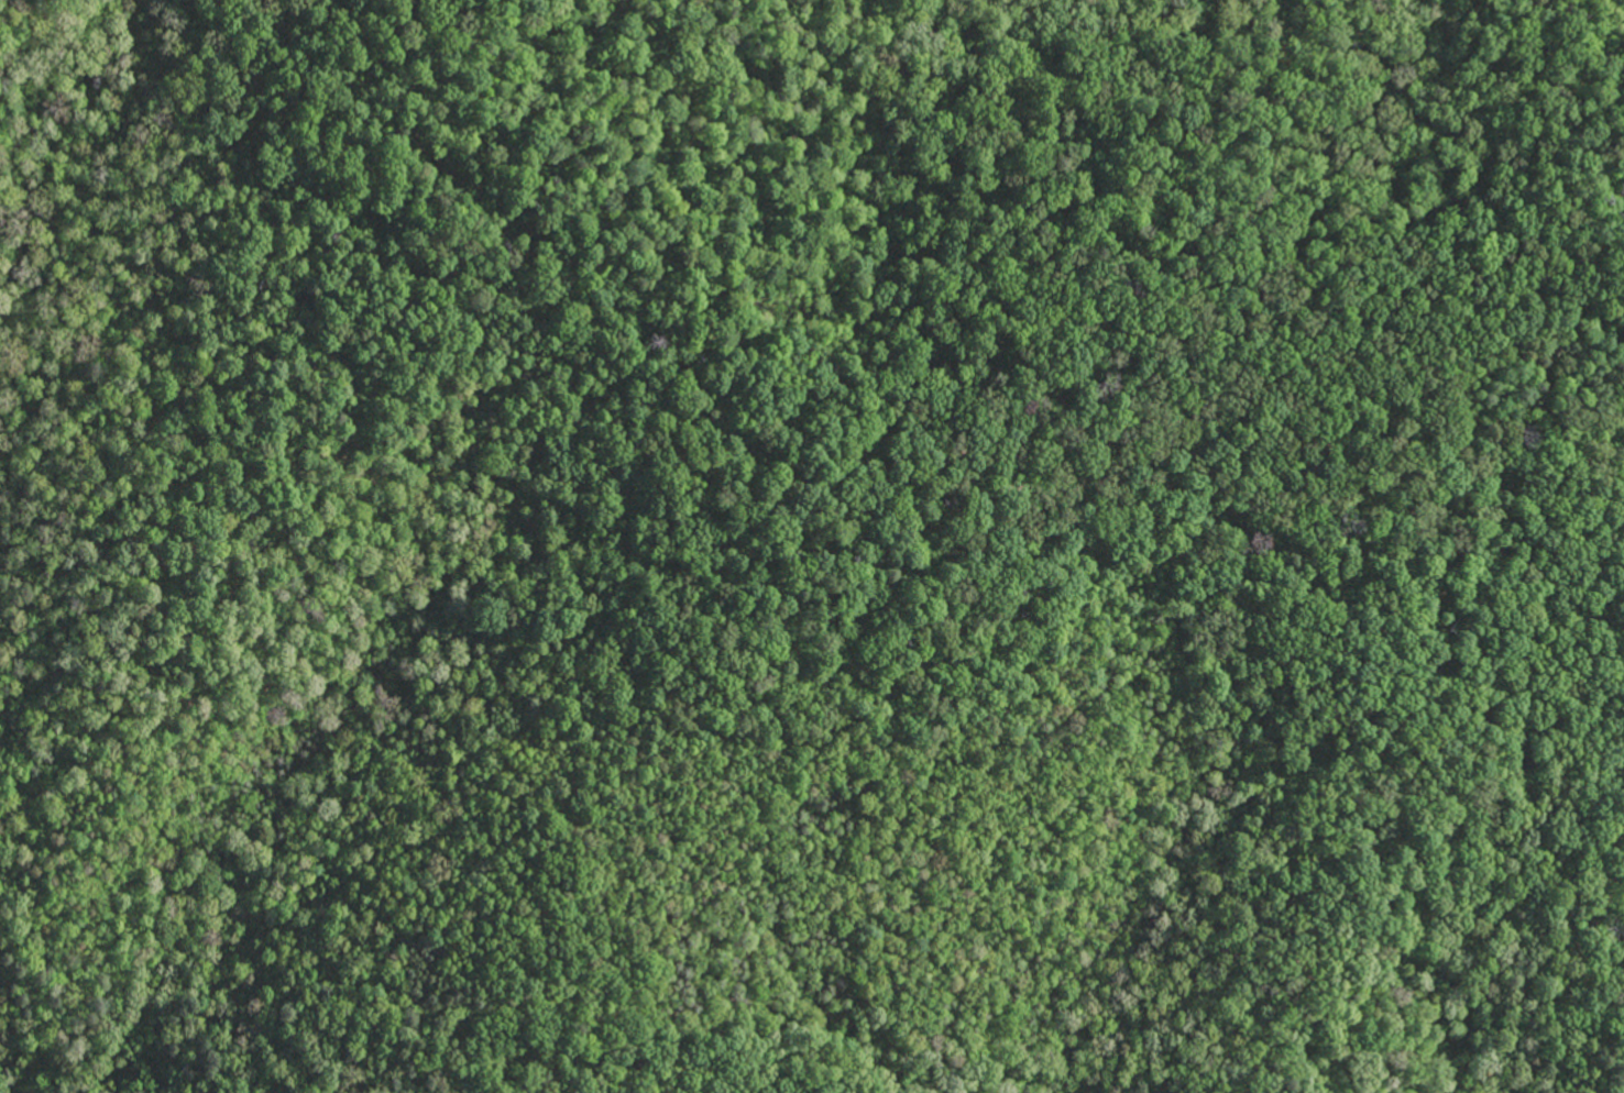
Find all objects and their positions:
road: (917, 530)

